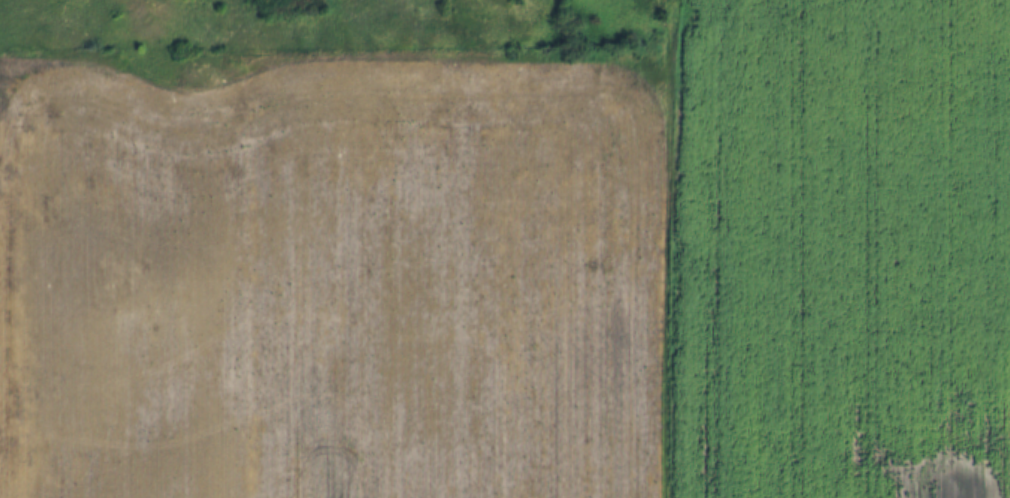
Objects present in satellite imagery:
road: (675, 249)

